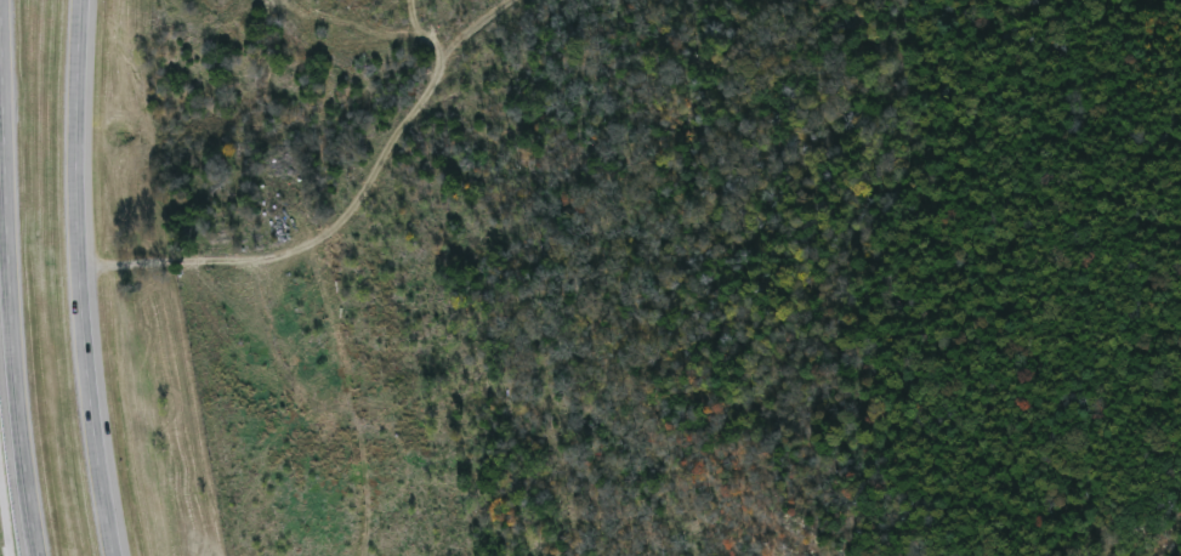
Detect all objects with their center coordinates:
road: (15, 278)
road: (89, 278)
road: (4, 517)

